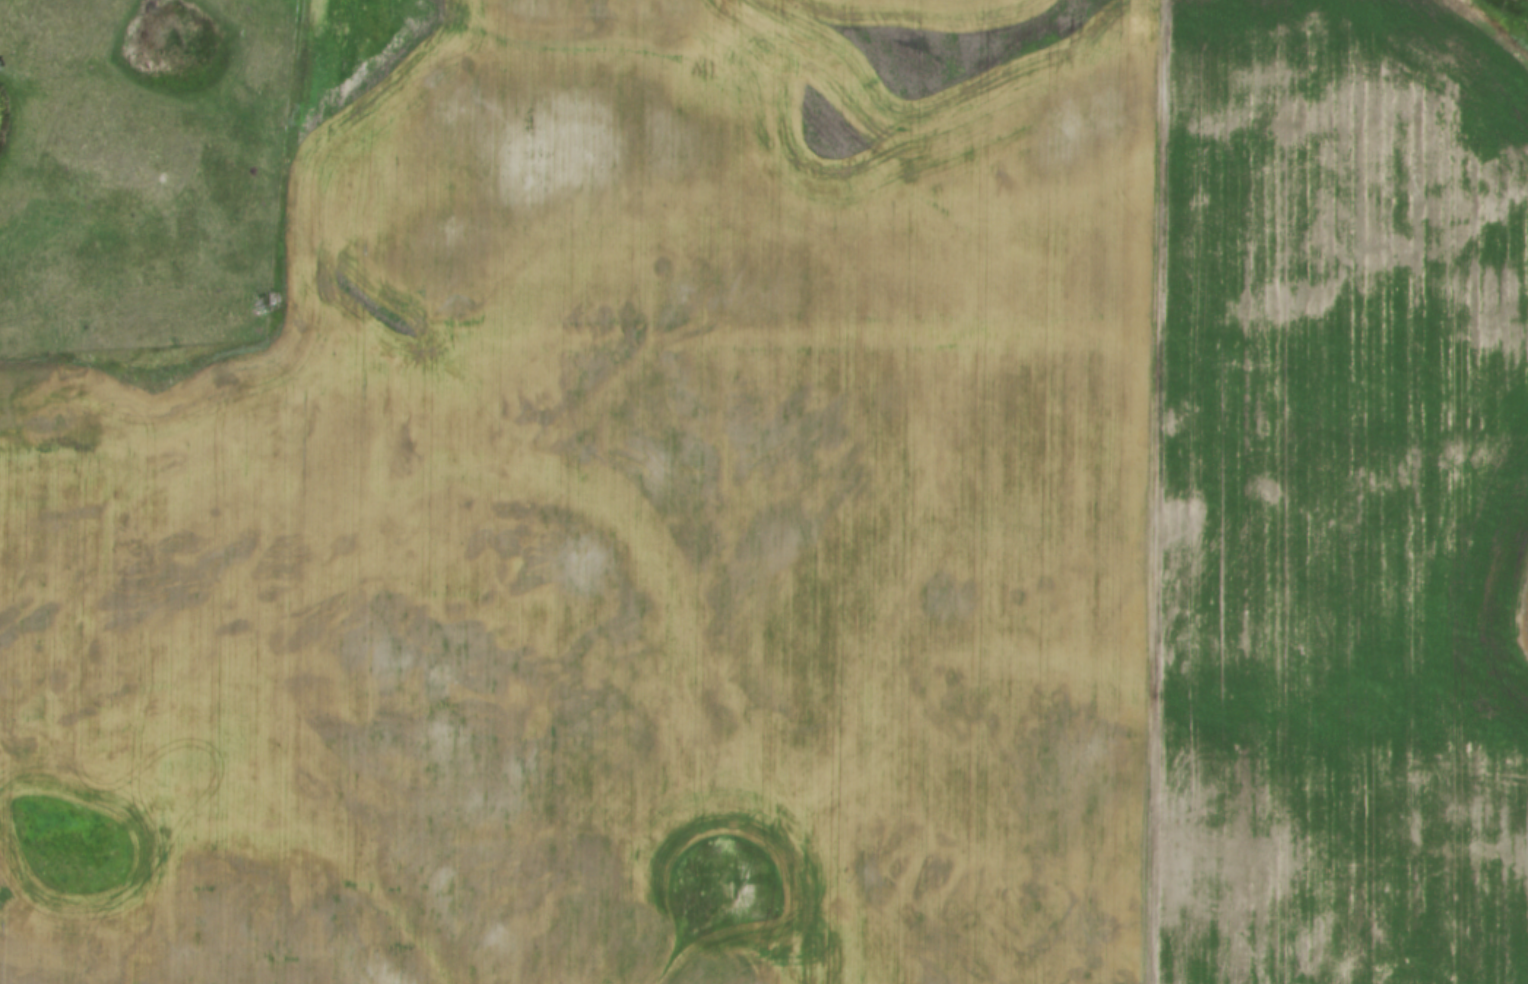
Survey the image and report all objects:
road: (1186, 492)

